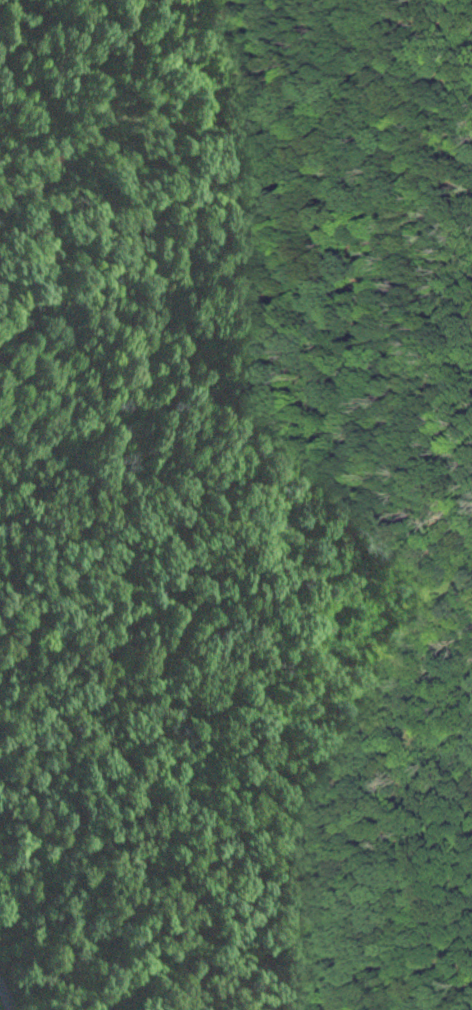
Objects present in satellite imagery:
road: (8, 993)

